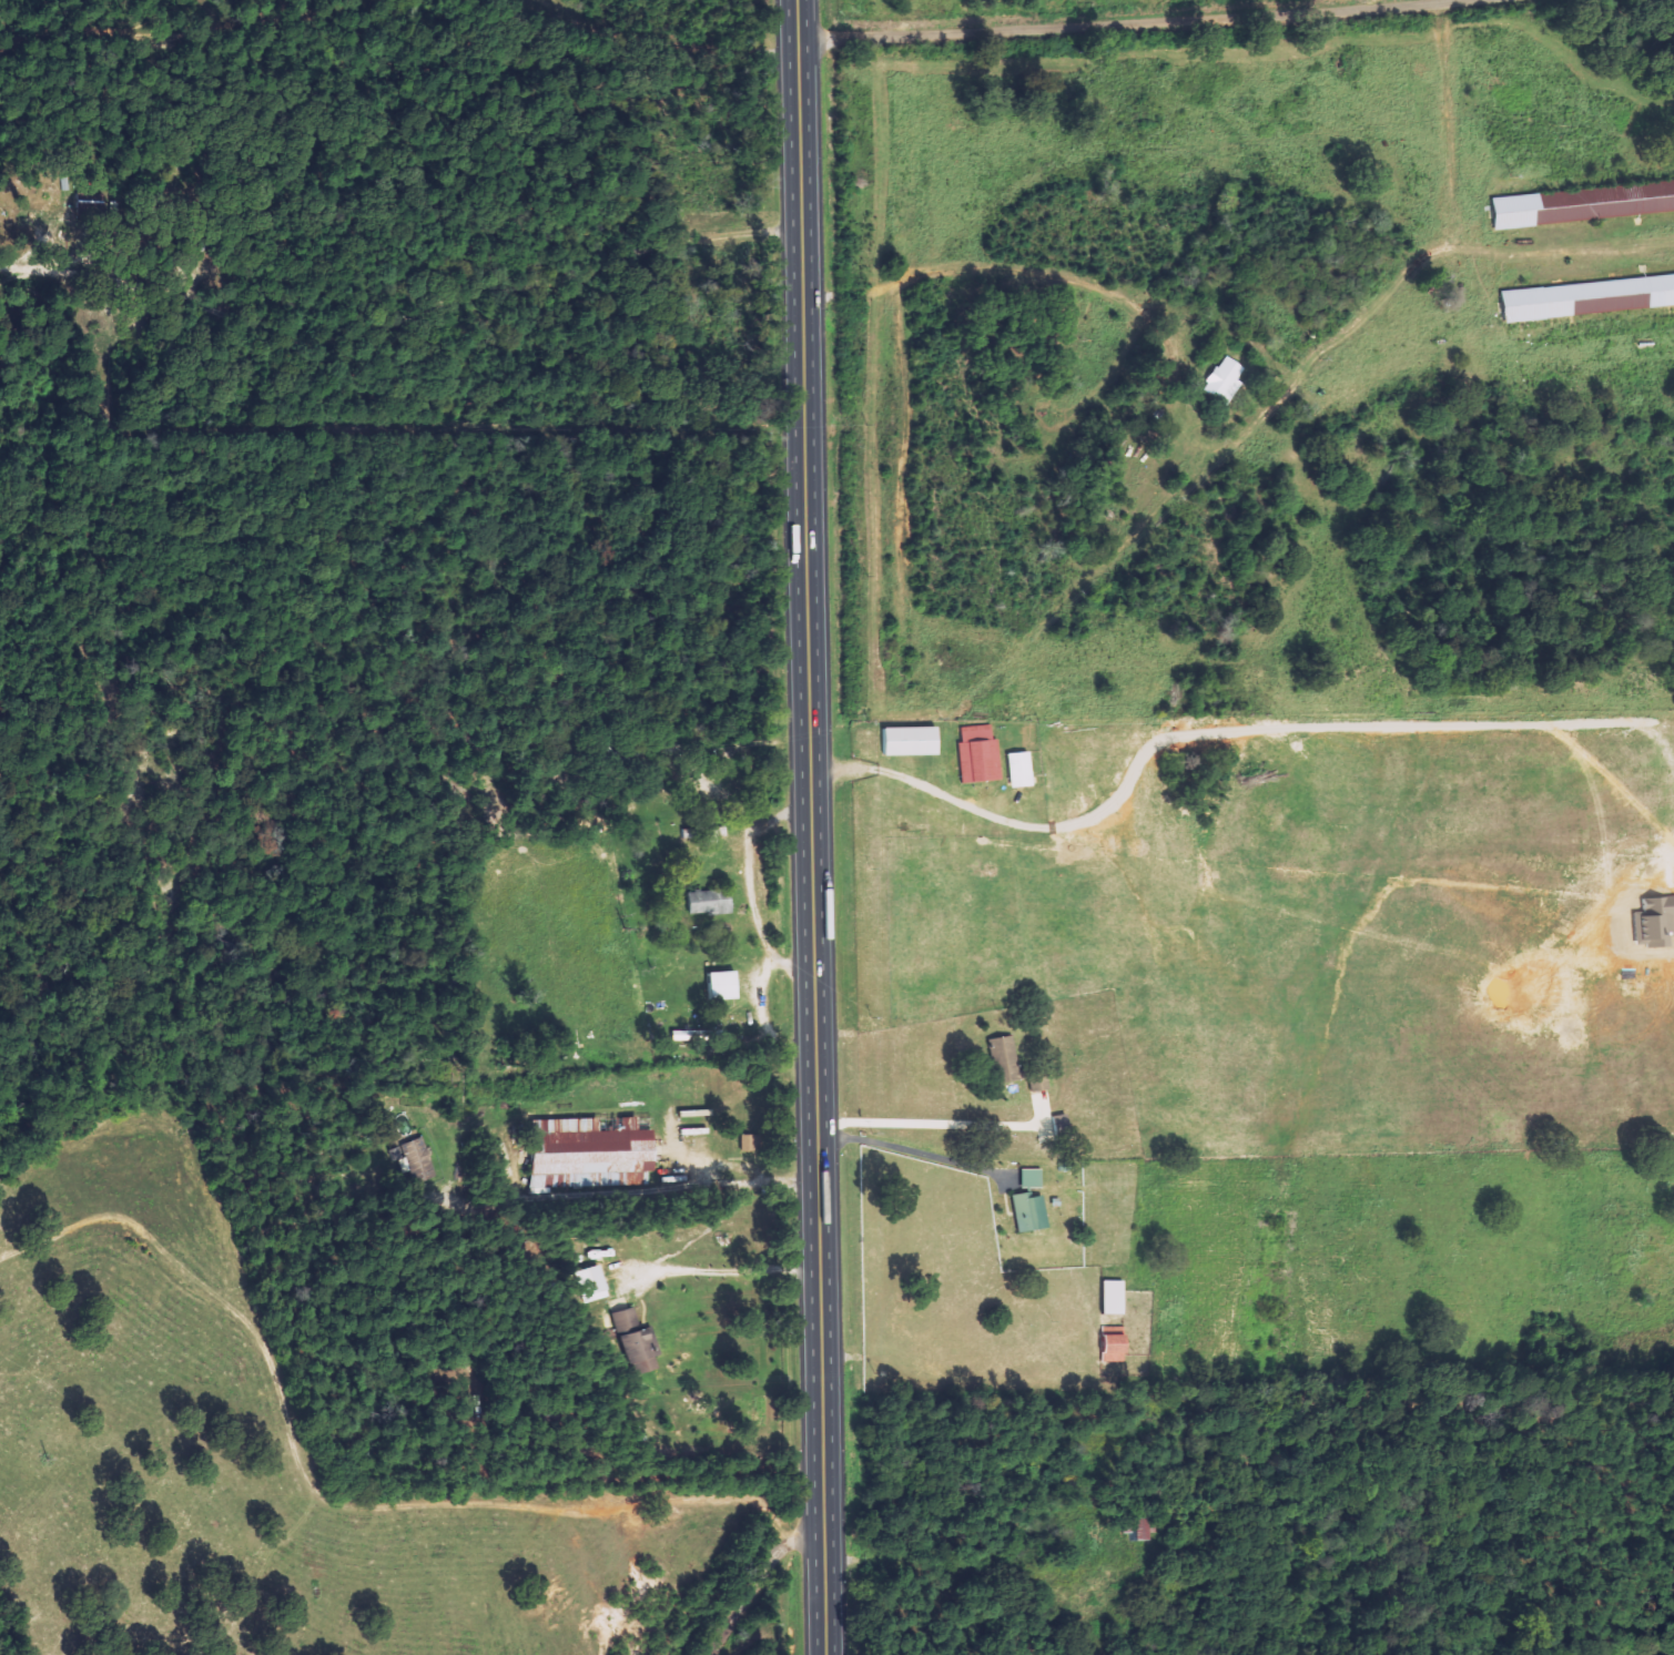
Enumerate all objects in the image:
road: (902, 18)
road: (1125, 22)
building: (1555, 207)
road: (1025, 278)
building: (1591, 297)
building: (1227, 380)
building: (914, 742)
building: (982, 754)
building: (1024, 770)
road: (812, 827)
building: (713, 902)
building: (728, 986)
building: (1008, 1059)
building: (595, 1151)
building: (422, 1158)
building: (1035, 1179)
building: (1034, 1212)
road: (724, 1270)
building: (603, 1285)
building: (1117, 1298)
building: (636, 1319)
building: (1118, 1349)
building: (648, 1350)
road: (754, 1581)

